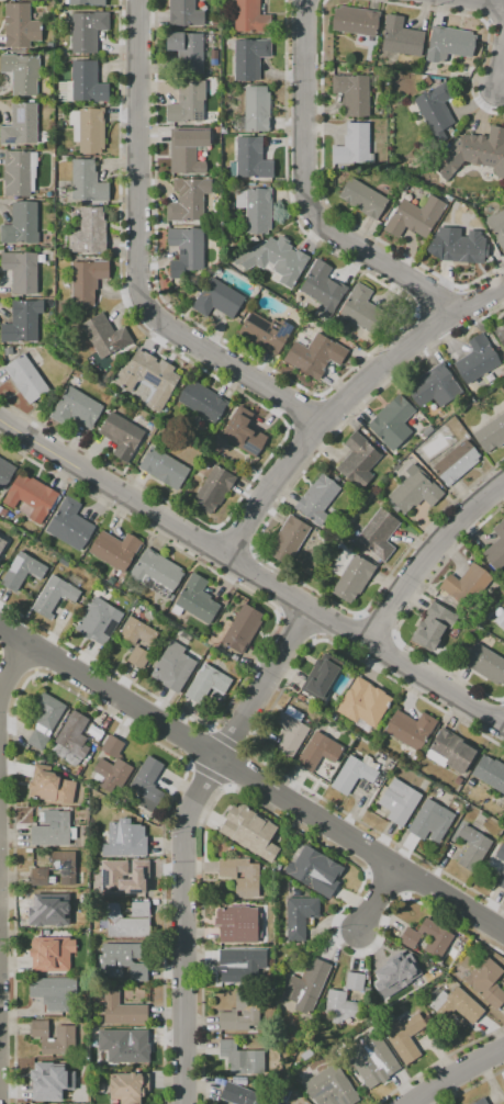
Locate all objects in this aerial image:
building: (86, 2)
road: (485, 2)
building: (184, 12)
building: (249, 16)
building: (355, 20)
building: (20, 25)
building: (87, 30)
building: (401, 36)
building: (448, 43)
building: (49, 45)
building: (187, 50)
building: (249, 58)
road: (500, 59)
building: (426, 71)
building: (21, 72)
building: (425, 80)
building: (87, 82)
building: (63, 90)
building: (351, 93)
building: (187, 102)
building: (43, 106)
building: (257, 109)
building: (435, 109)
building: (20, 124)
building: (88, 128)
building: (354, 146)
building: (187, 149)
building: (474, 153)
building: (251, 158)
building: (20, 172)
building: (87, 181)
road: (310, 192)
building: (362, 198)
building: (188, 199)
building: (257, 211)
building: (415, 216)
building: (21, 224)
building: (496, 225)
building: (89, 232)
building: (457, 246)
building: (186, 250)
building: (275, 258)
road: (142, 262)
building: (21, 270)
building: (87, 281)
building: (323, 286)
building: (217, 298)
building: (361, 308)
building: (22, 320)
building: (267, 331)
building: (501, 333)
building: (104, 335)
building: (8, 350)
building: (320, 354)
building: (477, 359)
building: (148, 376)
building: (25, 378)
building: (434, 386)
building: (203, 401)
road: (348, 406)
building: (76, 407)
building: (392, 421)
building: (427, 430)
building: (243, 431)
building: (490, 433)
building: (121, 435)
building: (358, 460)
building: (456, 462)
building: (164, 467)
building: (5, 472)
building: (213, 489)
building: (414, 491)
building: (32, 496)
building: (317, 499)
building: (2, 511)
building: (70, 523)
building: (379, 533)
building: (288, 539)
building: (2, 543)
building: (114, 549)
building: (497, 551)
building: (64, 562)
road: (428, 565)
building: (22, 571)
building: (307, 571)
building: (155, 573)
building: (350, 574)
road: (253, 577)
building: (466, 584)
building: (54, 595)
building: (195, 599)
building: (98, 621)
building: (503, 624)
building: (433, 626)
building: (242, 628)
building: (136, 631)
building: (438, 653)
building: (138, 656)
building: (485, 663)
building: (172, 666)
building: (321, 676)
building: (206, 683)
building: (363, 702)
building: (47, 710)
building: (333, 716)
road: (499, 721)
building: (410, 729)
building: (74, 734)
building: (98, 734)
building: (290, 736)
building: (37, 740)
building: (317, 751)
building: (451, 751)
building: (112, 765)
building: (490, 773)
building: (352, 774)
road: (1, 780)
building: (147, 782)
building: (51, 785)
road: (251, 788)
building: (399, 801)
building: (432, 814)
building: (53, 829)
building: (249, 832)
building: (124, 840)
building: (83, 841)
road: (190, 842)
building: (472, 847)
building: (502, 855)
building: (65, 866)
building: (313, 869)
building: (240, 875)
building: (40, 877)
building: (113, 879)
building: (502, 882)
building: (55, 904)
road: (373, 904)
building: (299, 915)
building: (127, 920)
building: (237, 923)
building: (439, 938)
building: (51, 953)
building: (122, 960)
building: (239, 961)
building: (396, 973)
building: (355, 981)
building: (486, 981)
building: (306, 985)
building: (53, 990)
building: (457, 1004)
building: (340, 1006)
building: (122, 1010)
building: (242, 1012)
building: (65, 1030)
building: (405, 1037)
building: (122, 1044)
building: (240, 1058)
building: (373, 1059)
road: (463, 1072)
building: (64, 1080)
building: (127, 1086)
building: (331, 1086)
building: (240, 1095)
building: (484, 1102)
building: (281, 1103)

